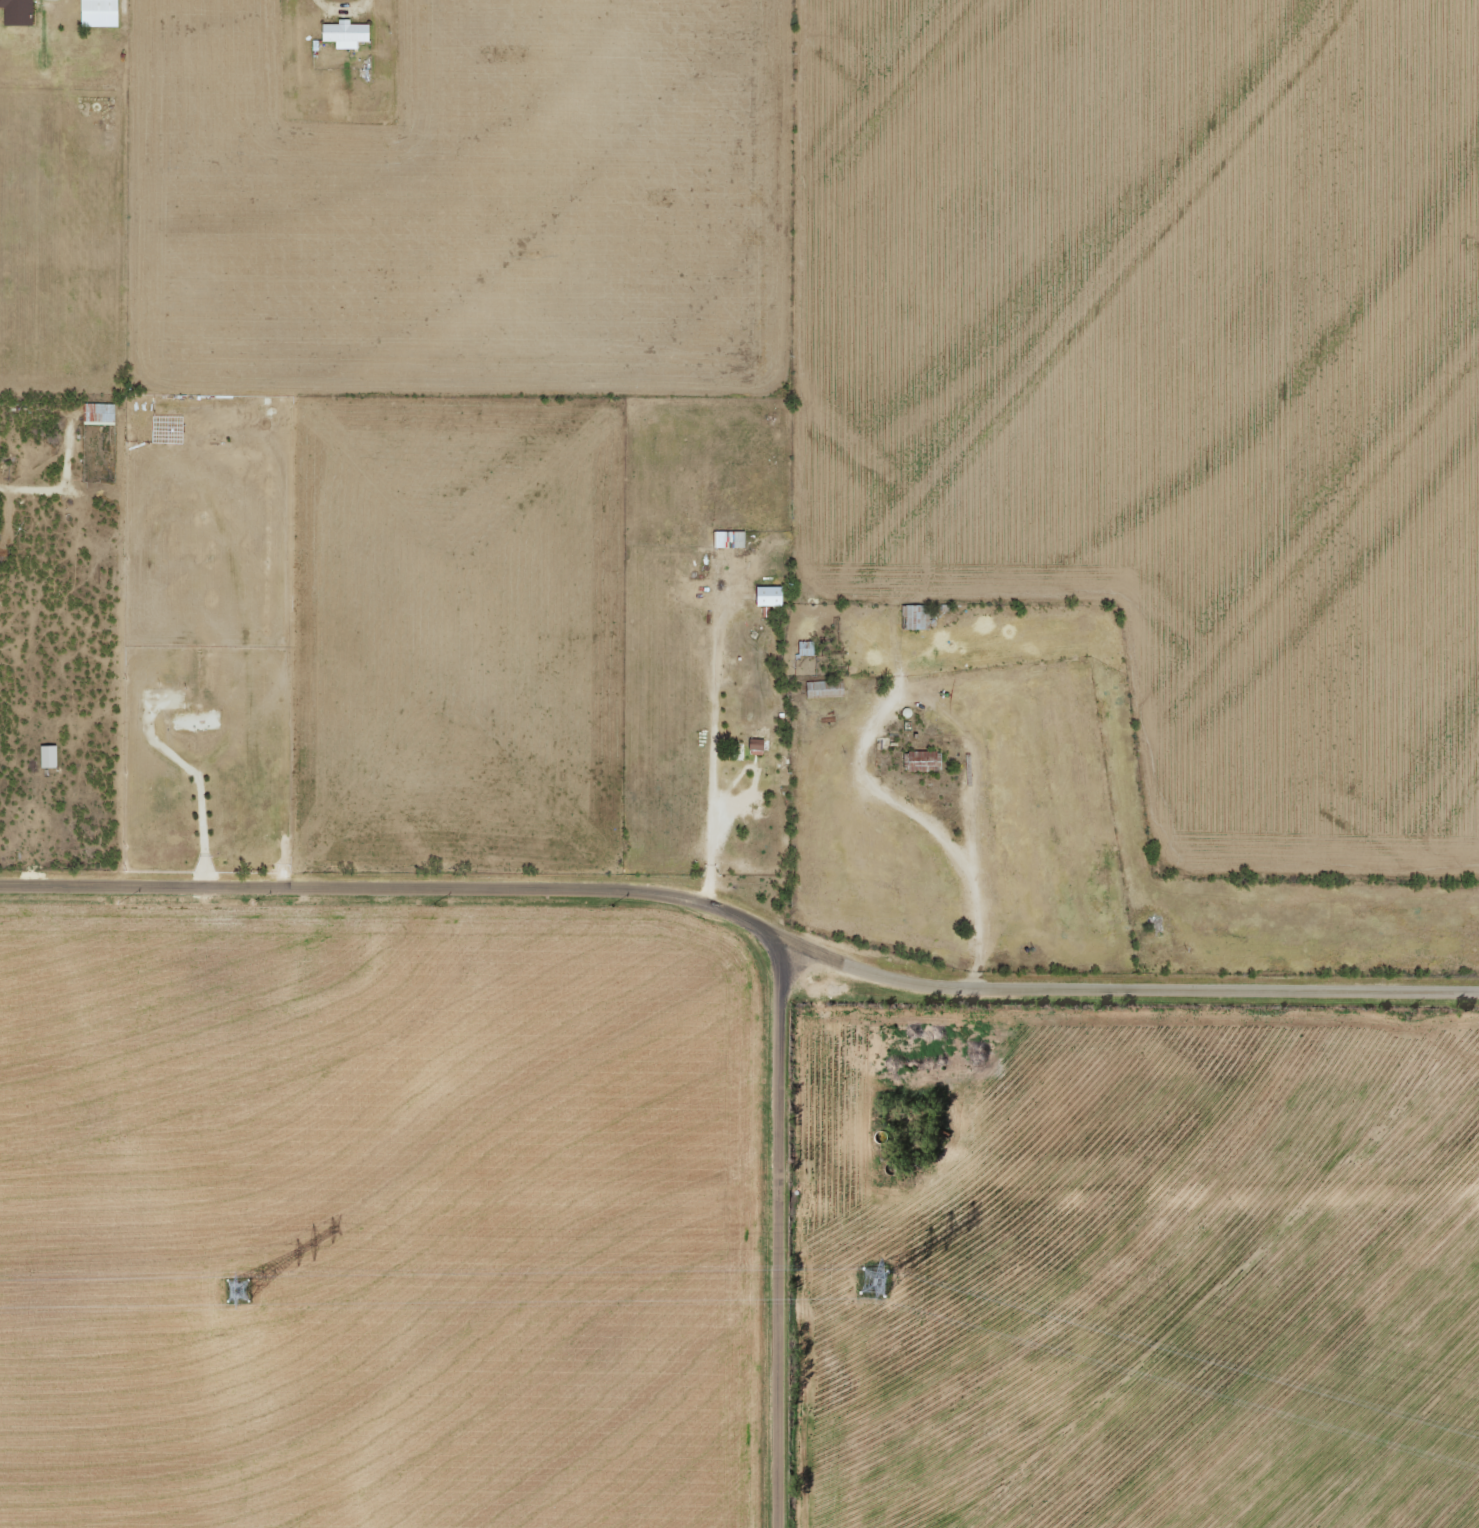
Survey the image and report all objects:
building: (16, 12)
building: (97, 13)
building: (343, 33)
building: (97, 414)
building: (728, 540)
building: (767, 596)
building: (914, 617)
building: (805, 648)
building: (823, 690)
building: (47, 757)
building: (922, 761)
road: (743, 907)
road: (738, 1216)
power tower: (873, 1282)
power tower: (234, 1291)

